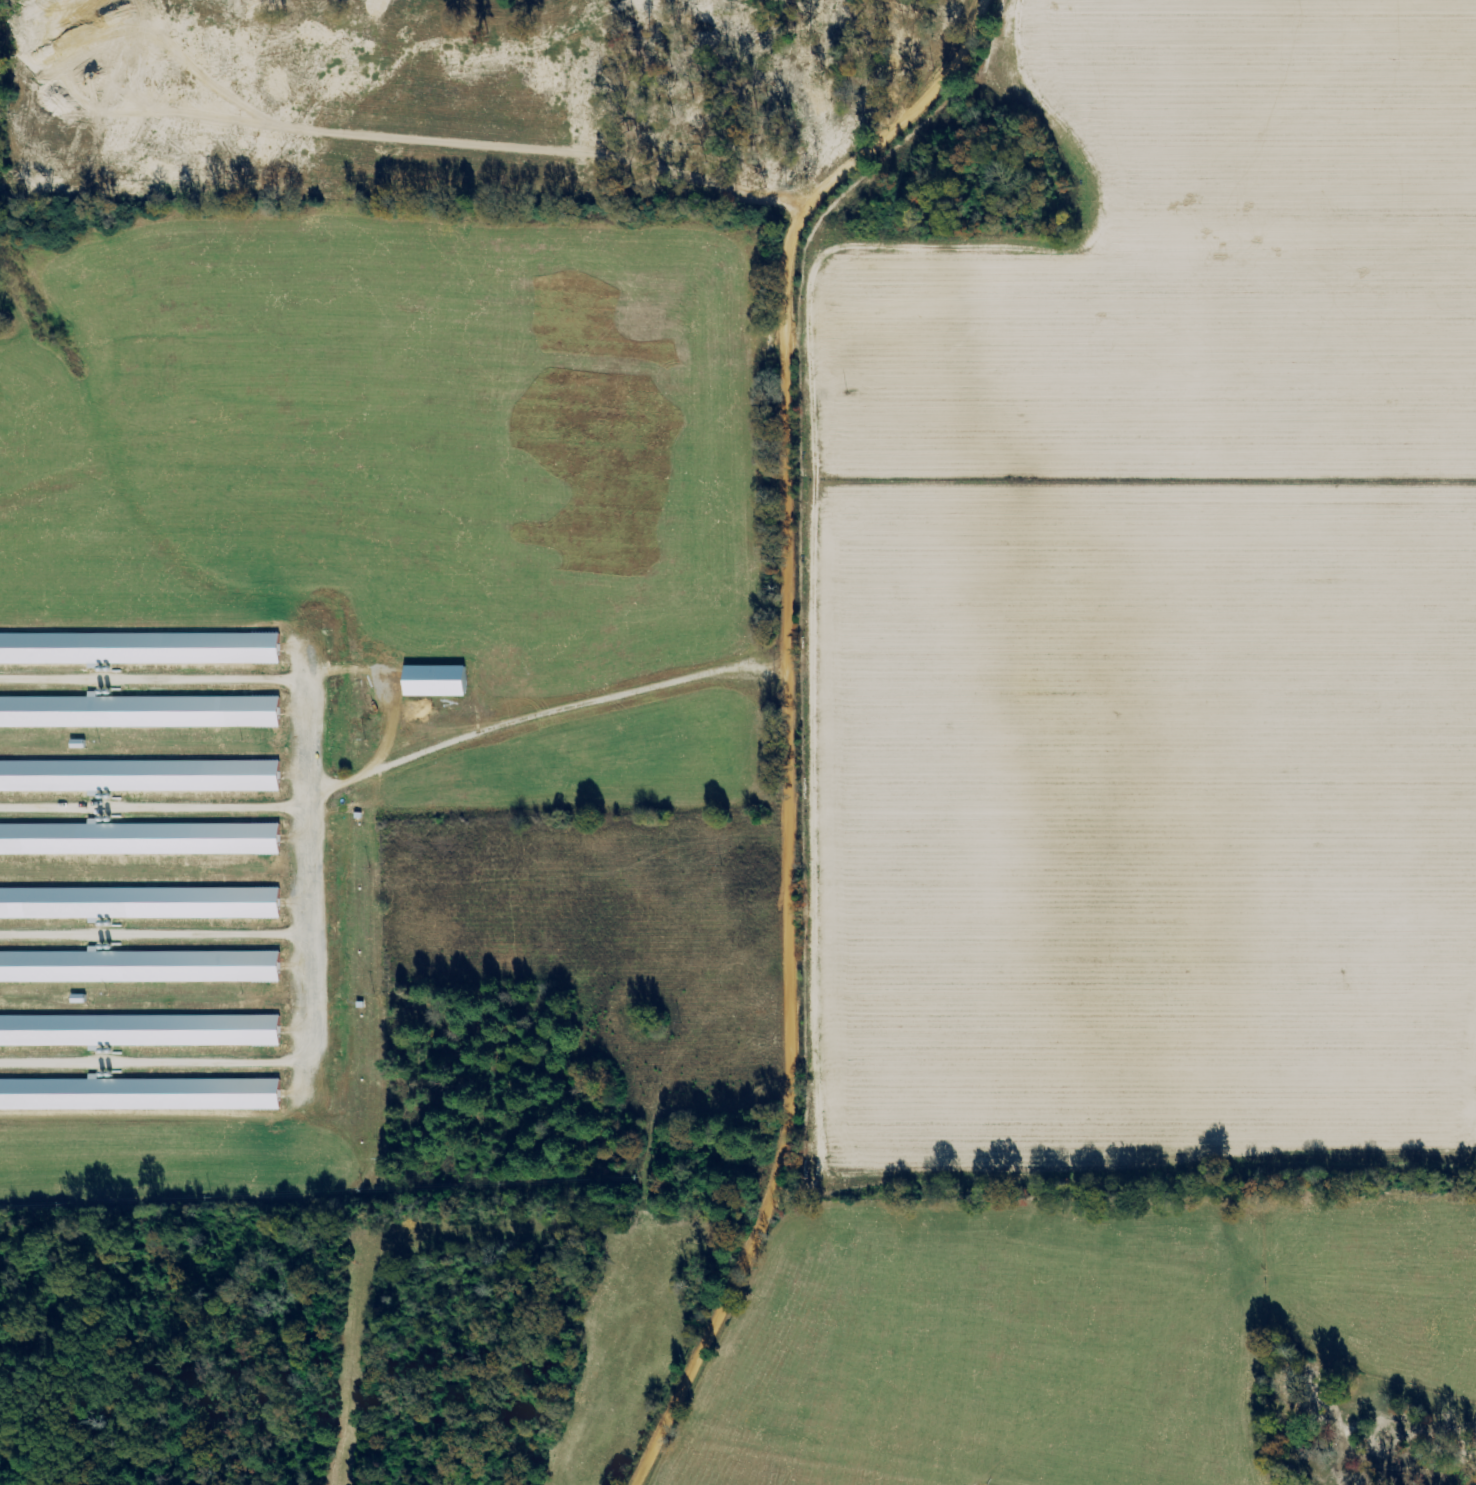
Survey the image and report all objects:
building: (137, 649)
building: (431, 681)
building: (137, 712)
road: (784, 719)
building: (137, 776)
building: (137, 840)
building: (137, 904)
building: (138, 967)
building: (137, 1031)
building: (137, 1095)

